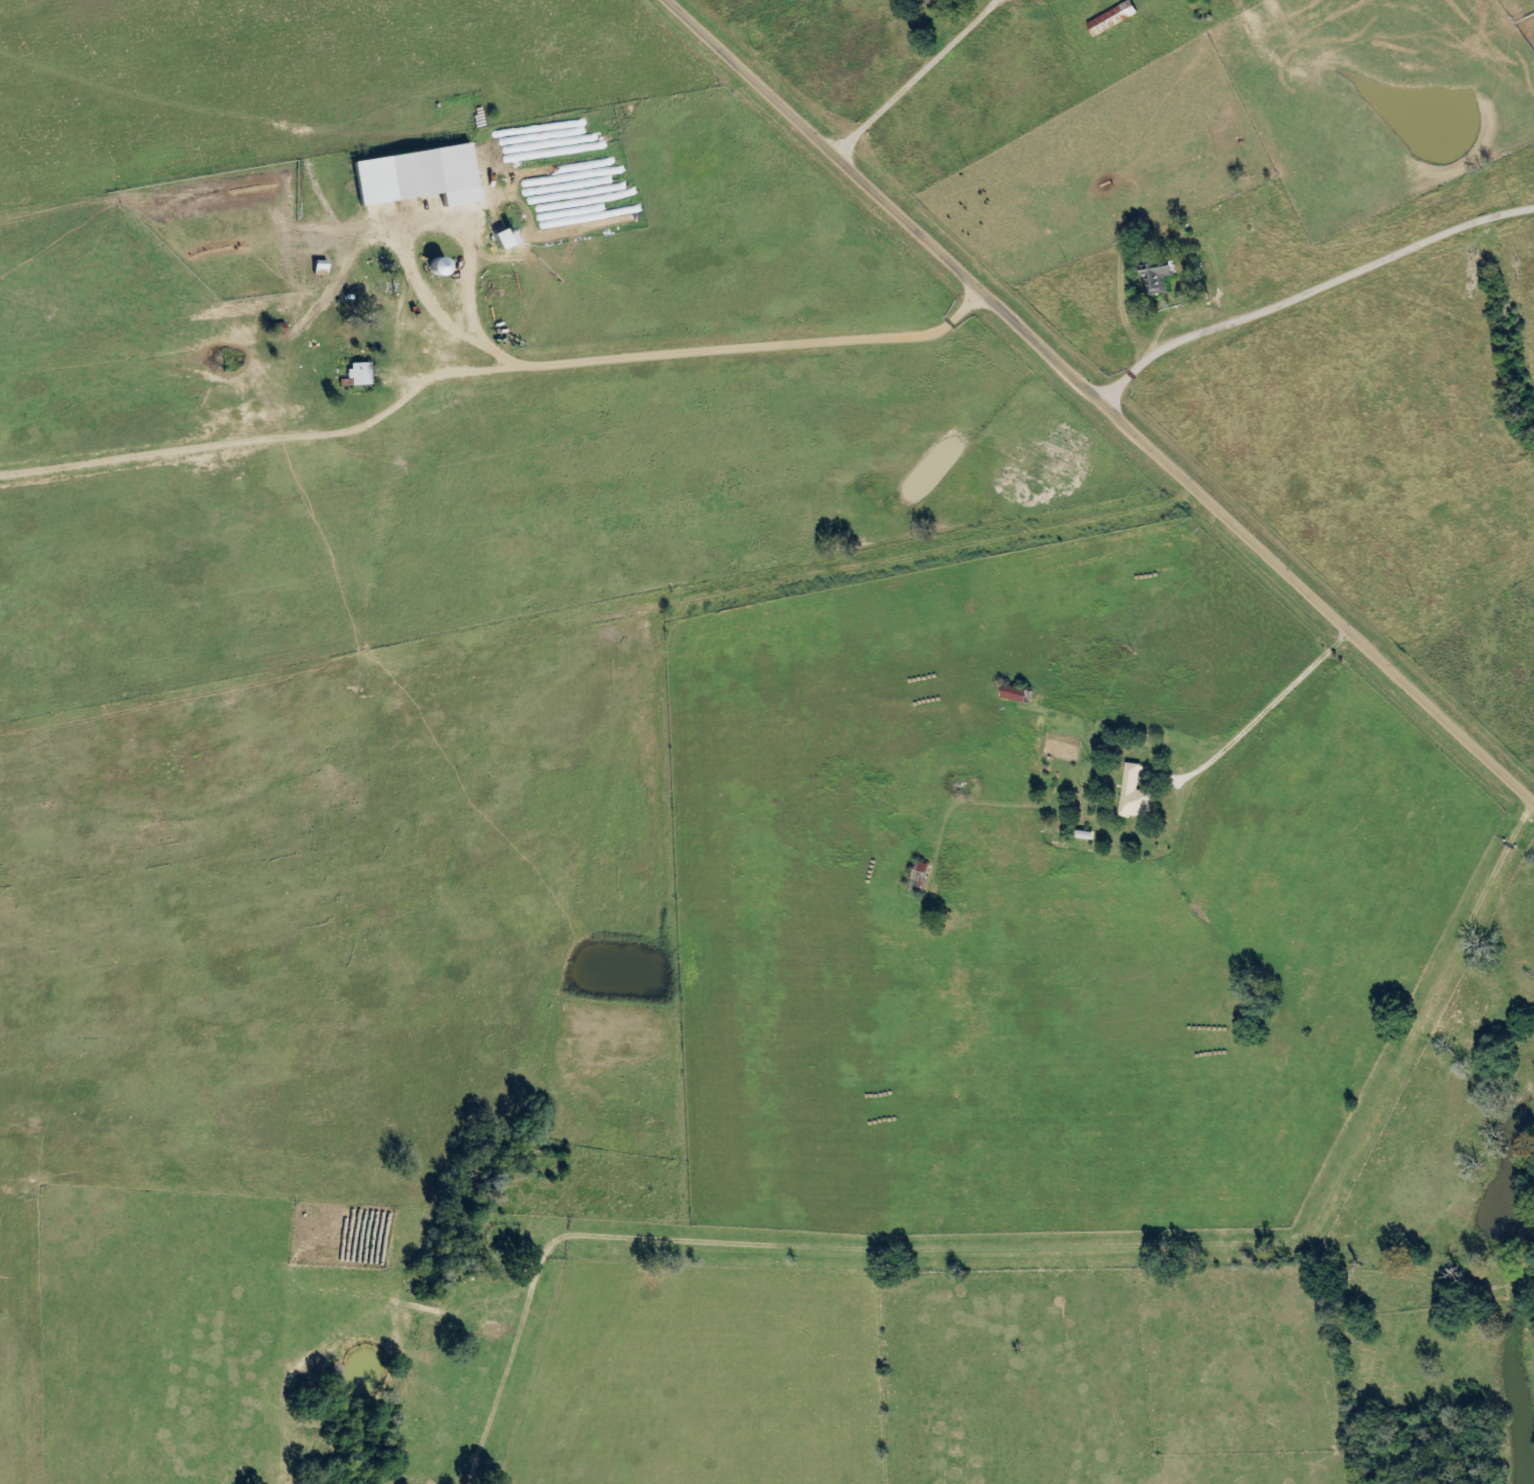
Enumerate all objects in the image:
building: (1074, 0)
building: (945, 2)
building: (1116, 19)
road: (920, 74)
road: (374, 126)
building: (443, 173)
building: (446, 267)
building: (324, 269)
building: (1161, 277)
road: (1315, 285)
building: (363, 374)
road: (1110, 391)
road: (1261, 702)
building: (1139, 794)
building: (924, 878)

